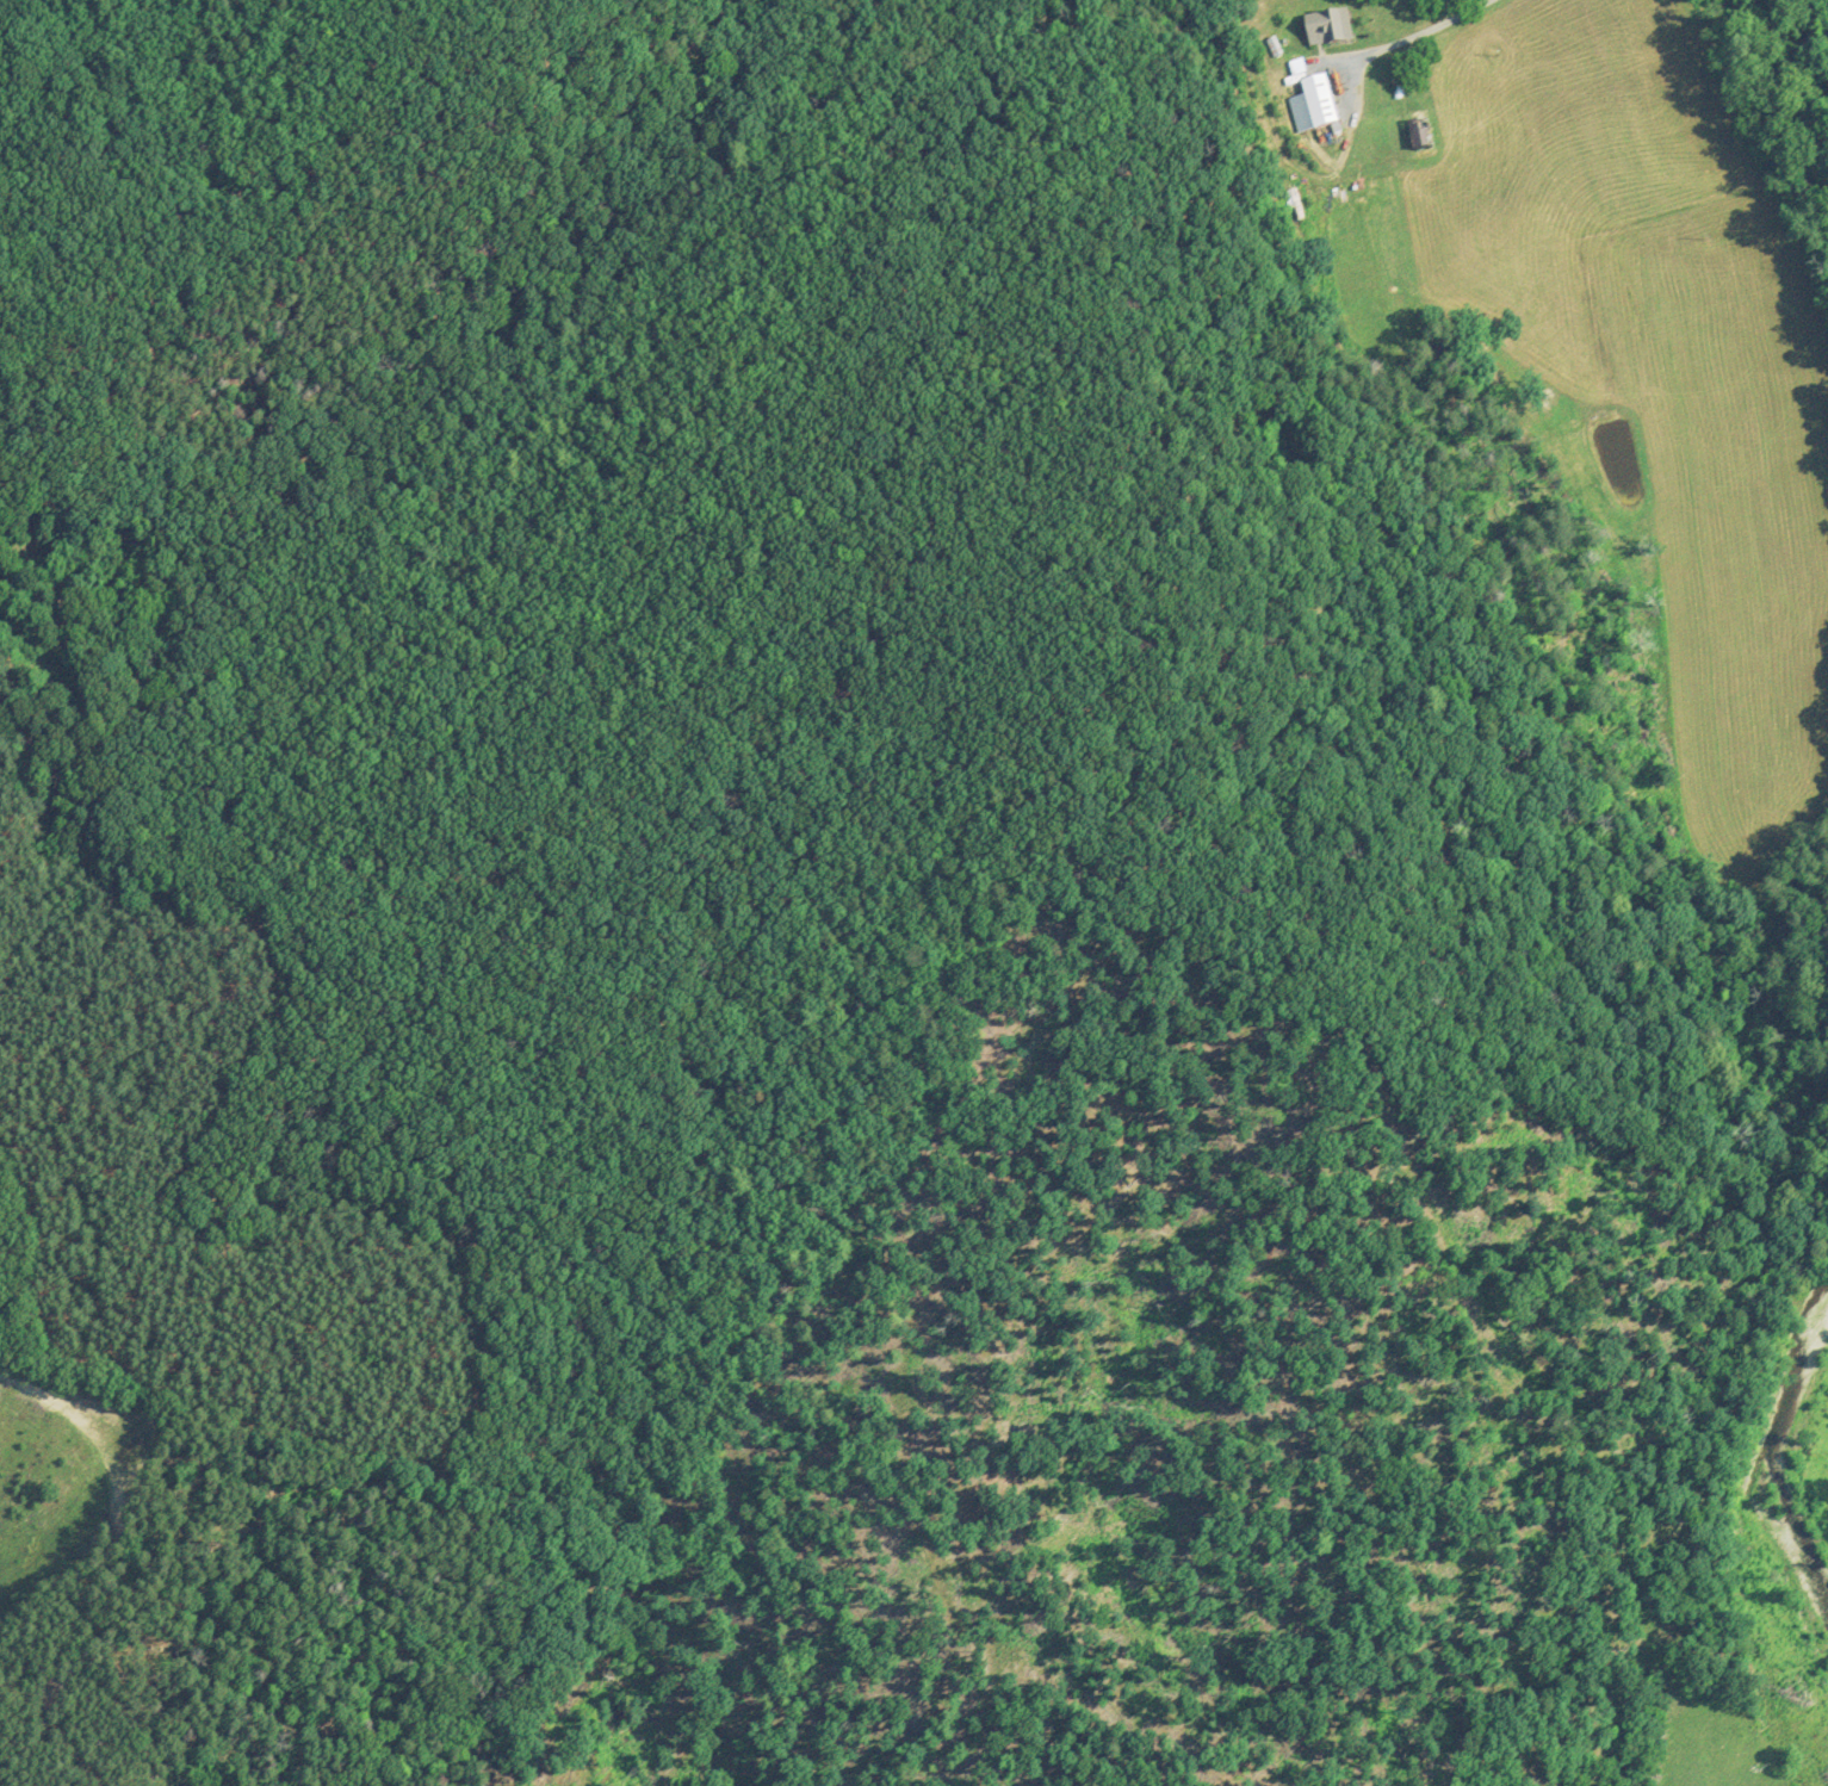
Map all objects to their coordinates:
road: (1426, 10)
building: (1330, 27)
building: (1315, 97)
building: (1417, 132)
river: (1768, 1447)

